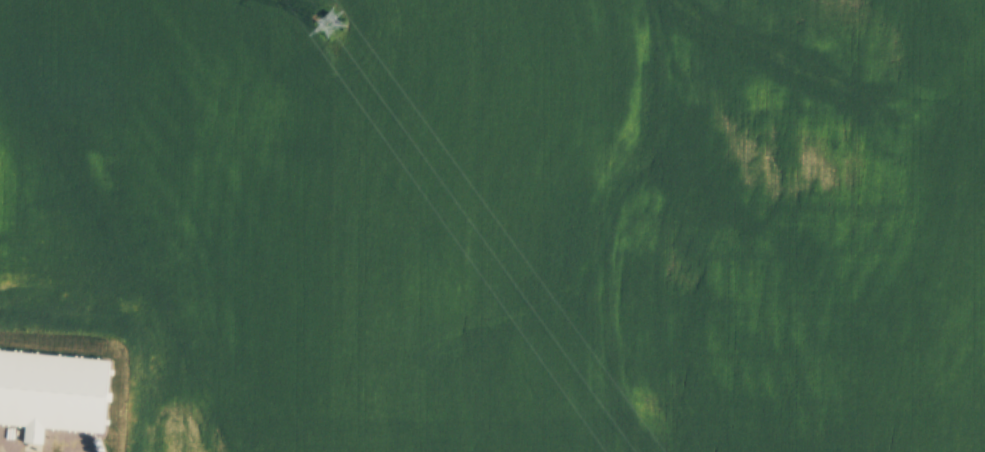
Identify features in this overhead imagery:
power tower: (338, 23)

